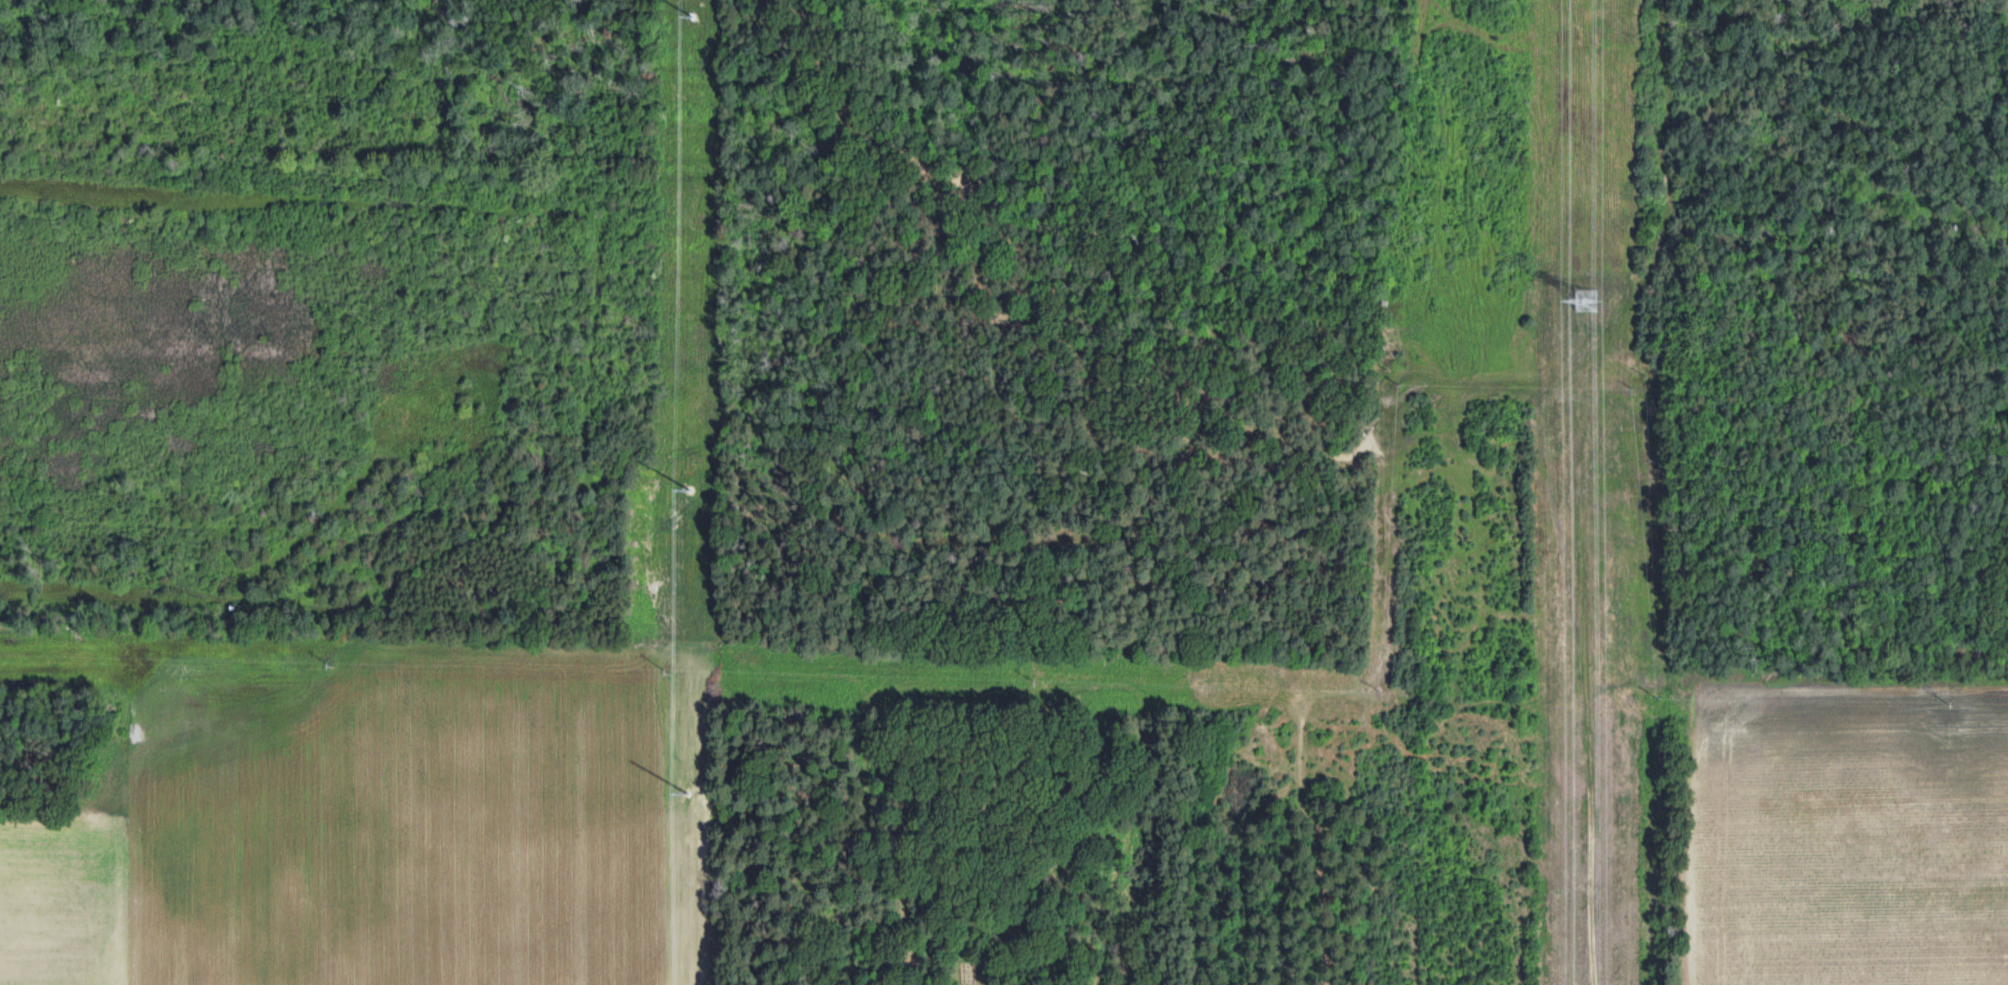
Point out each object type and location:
power tower: (1590, 295)

